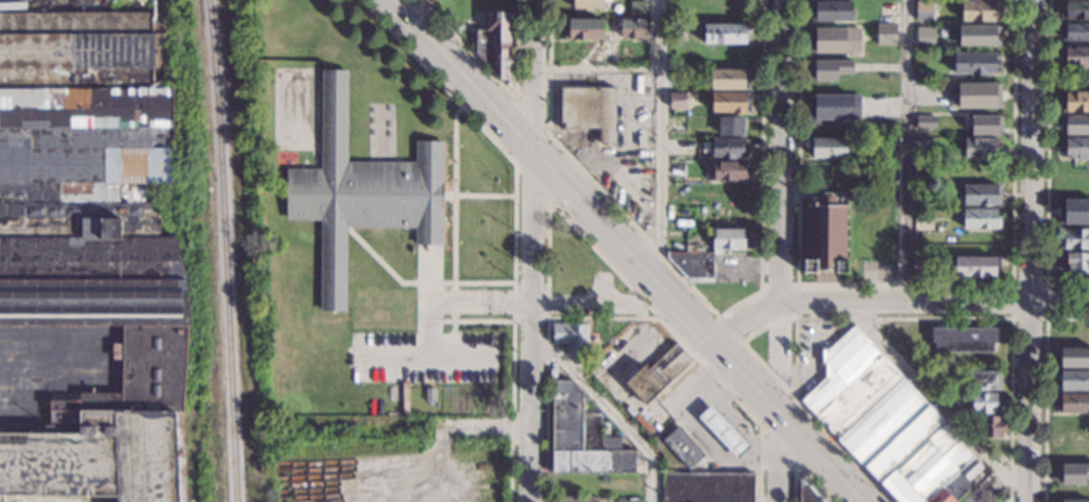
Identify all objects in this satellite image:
building: (429, 1)
building: (587, 3)
building: (676, 7)
building: (638, 9)
building: (1075, 10)
building: (731, 11)
building: (925, 11)
building: (980, 11)
building: (830, 12)
building: (582, 29)
building: (632, 29)
building: (676, 32)
building: (886, 33)
building: (1075, 33)
building: (723, 34)
building: (925, 35)
building: (978, 36)
building: (838, 39)
building: (495, 45)
building: (1076, 57)
building: (975, 63)
road: (597, 67)
building: (831, 67)
building: (729, 78)
building: (921, 78)
road: (498, 83)
building: (974, 95)
building: (677, 101)
building: (730, 102)
building: (1076, 102)
building: (837, 105)
building: (589, 110)
building: (926, 122)
building: (1075, 125)
building: (730, 126)
road: (548, 136)
road: (660, 139)
building: (888, 147)
building: (728, 148)
building: (827, 148)
building: (980, 148)
building: (1075, 148)
road: (903, 151)
road: (507, 155)
road: (1047, 163)
building: (728, 171)
road: (781, 187)
building: (360, 192)
road: (454, 192)
road: (479, 194)
building: (981, 194)
building: (1076, 211)
building: (980, 218)
road: (576, 231)
building: (826, 233)
building: (730, 239)
building: (1075, 239)
building: (92, 247)
railway: (224, 250)
road: (532, 251)
road: (1031, 251)
road: (629, 252)
road: (383, 264)
building: (693, 264)
building: (1076, 264)
building: (974, 266)
building: (920, 268)
road: (795, 284)
road: (904, 284)
road: (1012, 285)
road: (454, 301)
road: (703, 301)
road: (429, 303)
road: (896, 303)
road: (466, 305)
road: (567, 305)
road: (854, 317)
road: (512, 318)
road: (729, 329)
road: (702, 332)
building: (571, 338)
road: (454, 340)
building: (963, 340)
road: (545, 354)
parking lot: (422, 356)
road: (423, 357)
road: (794, 357)
building: (1072, 359)
road: (511, 368)
building: (657, 375)
building: (982, 380)
building: (1073, 380)
road: (1045, 389)
building: (429, 394)
building: (950, 398)
road: (734, 399)
road: (933, 403)
building: (981, 403)
building: (1073, 403)
road: (605, 413)
building: (892, 427)
building: (992, 427)
building: (722, 431)
building: (583, 437)
road: (777, 447)
building: (682, 448)
road: (782, 456)
road: (800, 470)
building: (1072, 474)
building: (707, 488)
building: (808, 493)
building: (578, 499)
building: (1073, 501)

